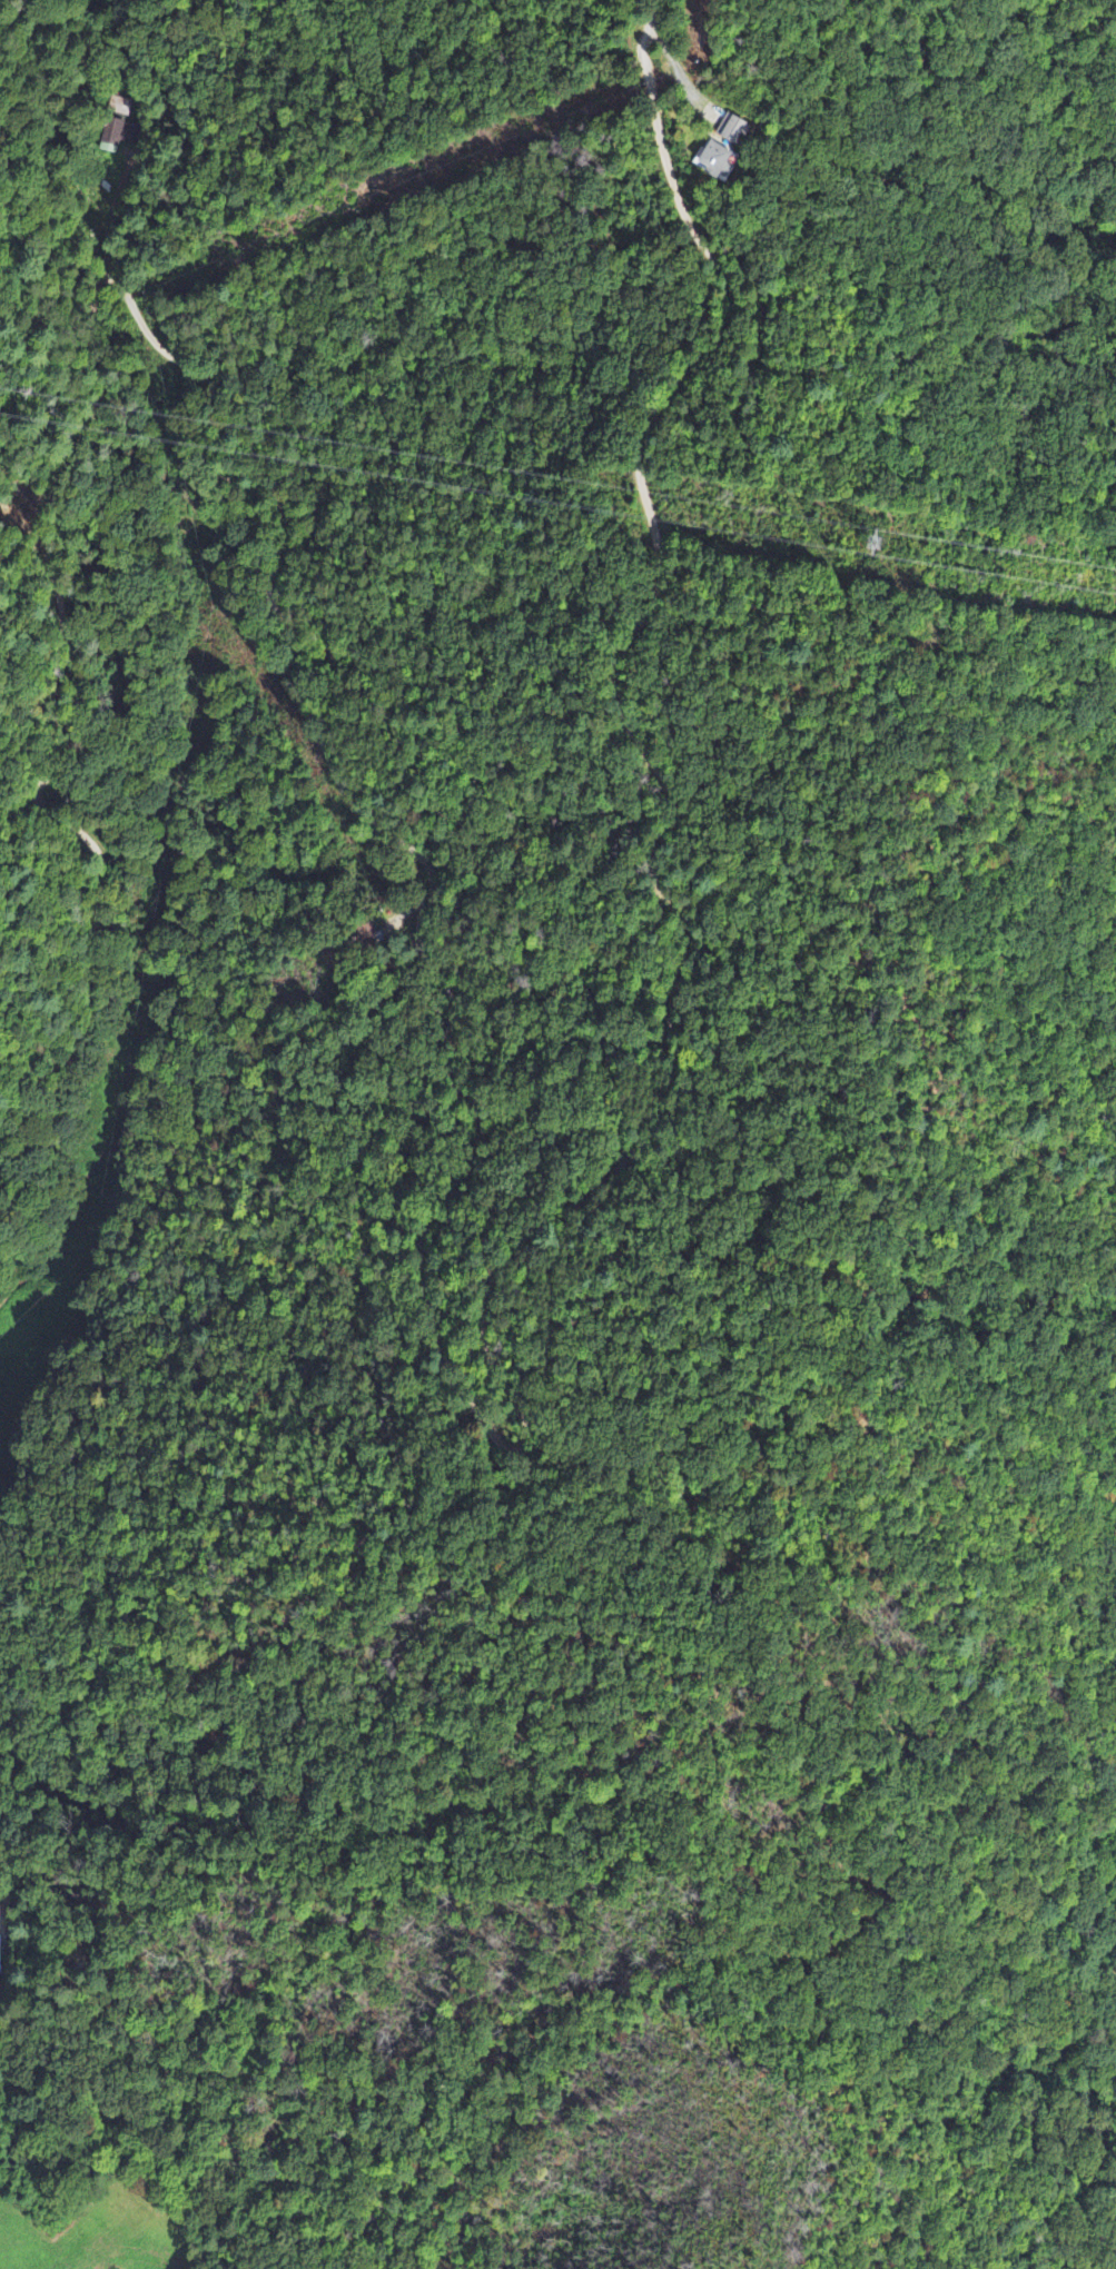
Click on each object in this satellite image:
road: (650, 13)
building: (714, 160)
power tower: (872, 542)
road: (470, 1104)
road: (6, 1351)

